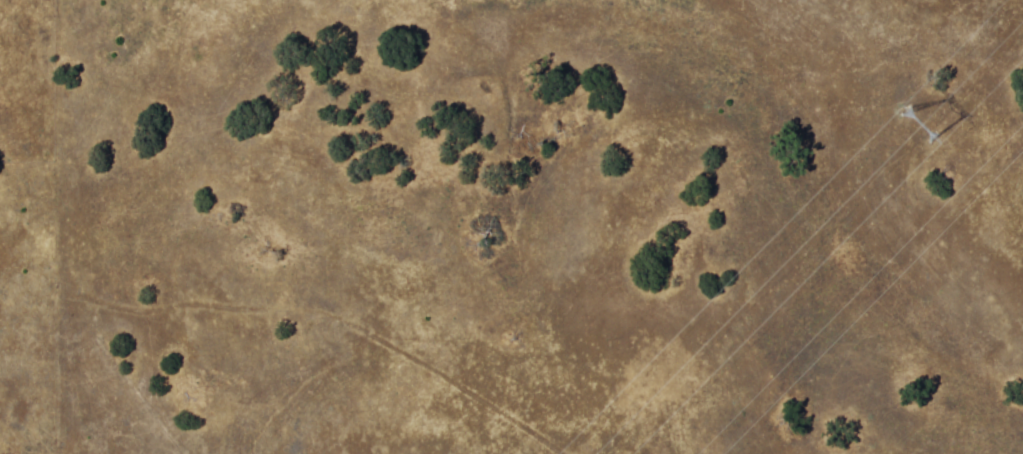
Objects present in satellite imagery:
power tower: (912, 132)

